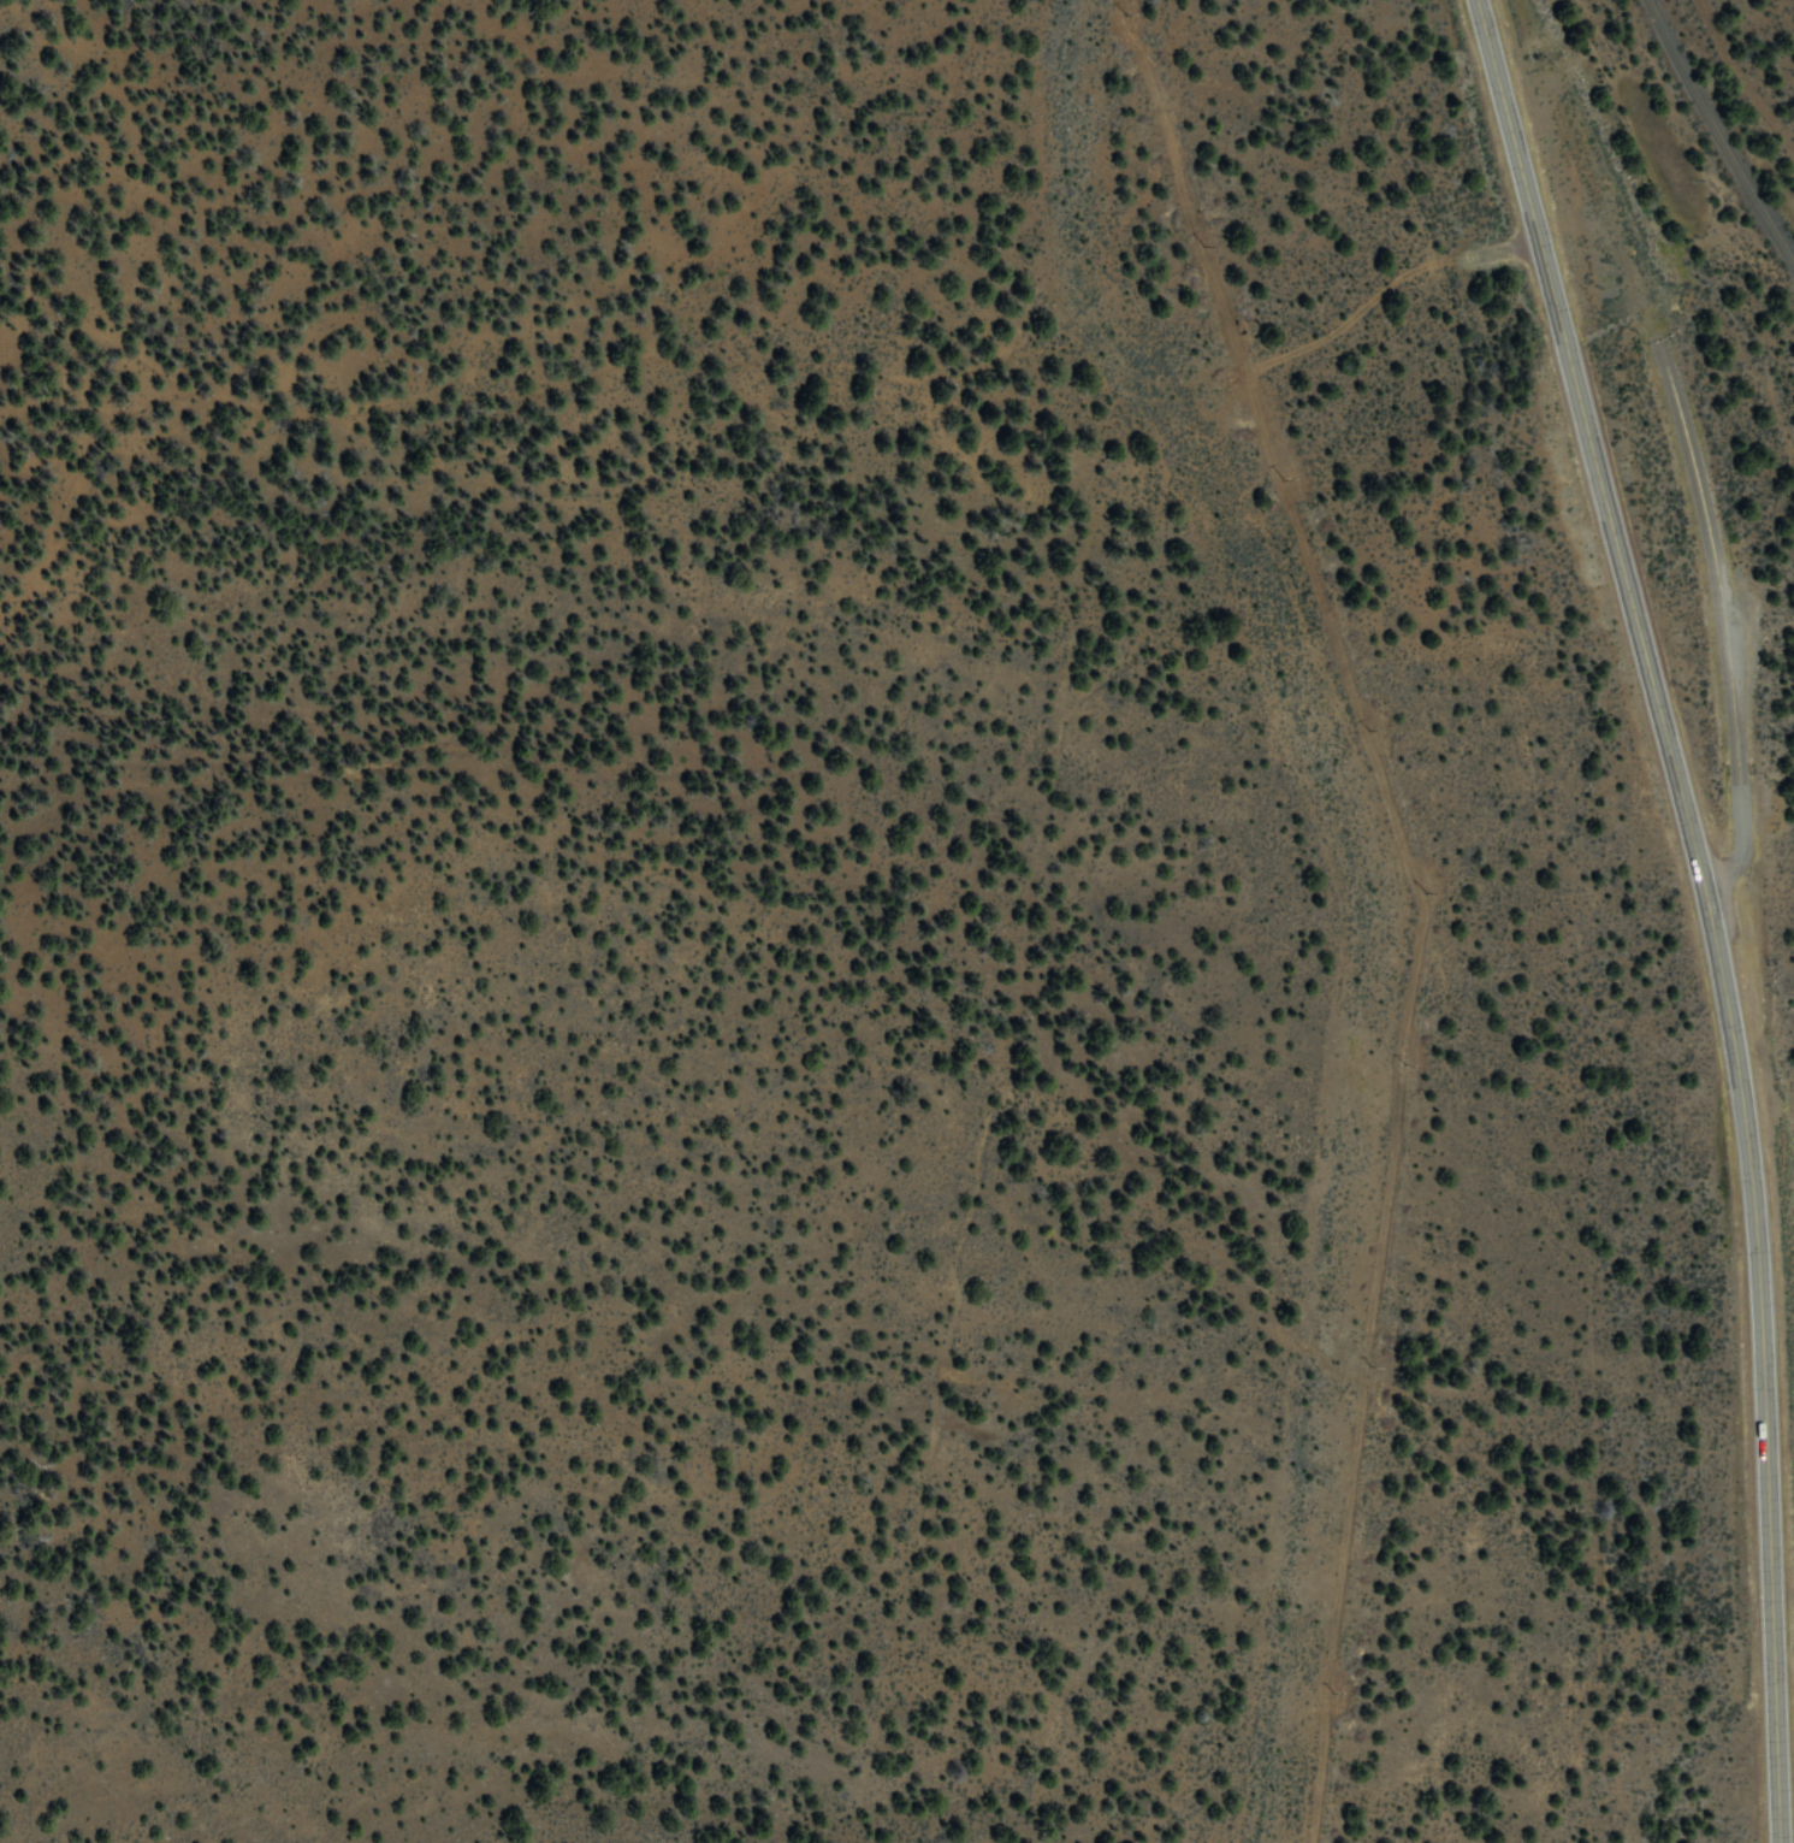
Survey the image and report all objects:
road: (1710, 908)

